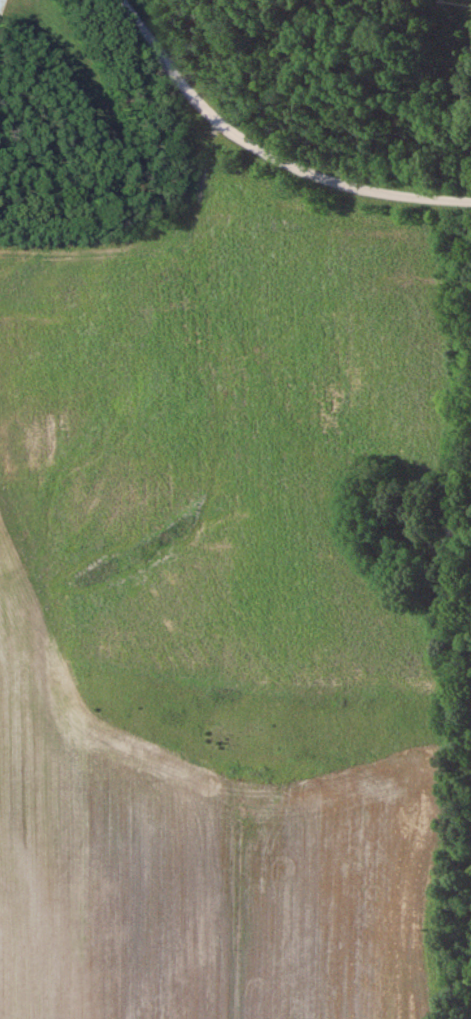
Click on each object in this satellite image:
road: (265, 149)

